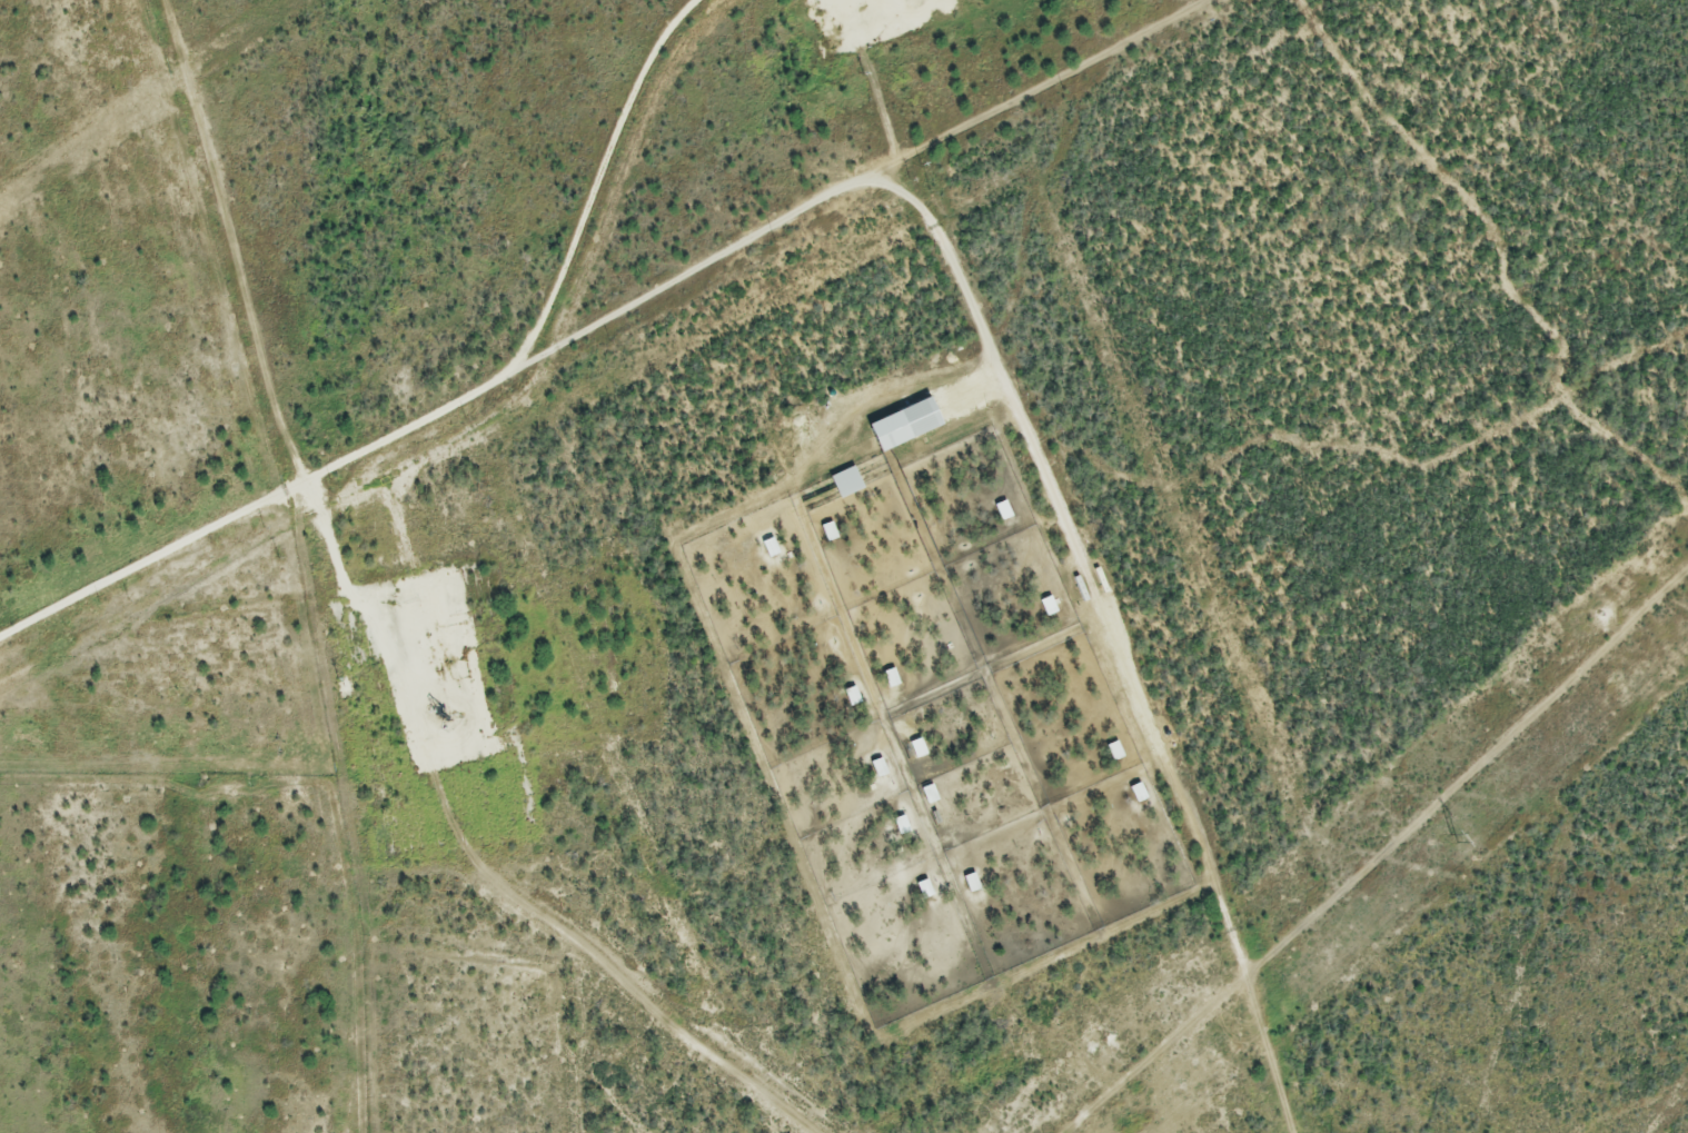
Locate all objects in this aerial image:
road: (607, 176)
road: (1039, 458)
road: (266, 494)
road: (334, 527)
power tower: (1454, 836)

